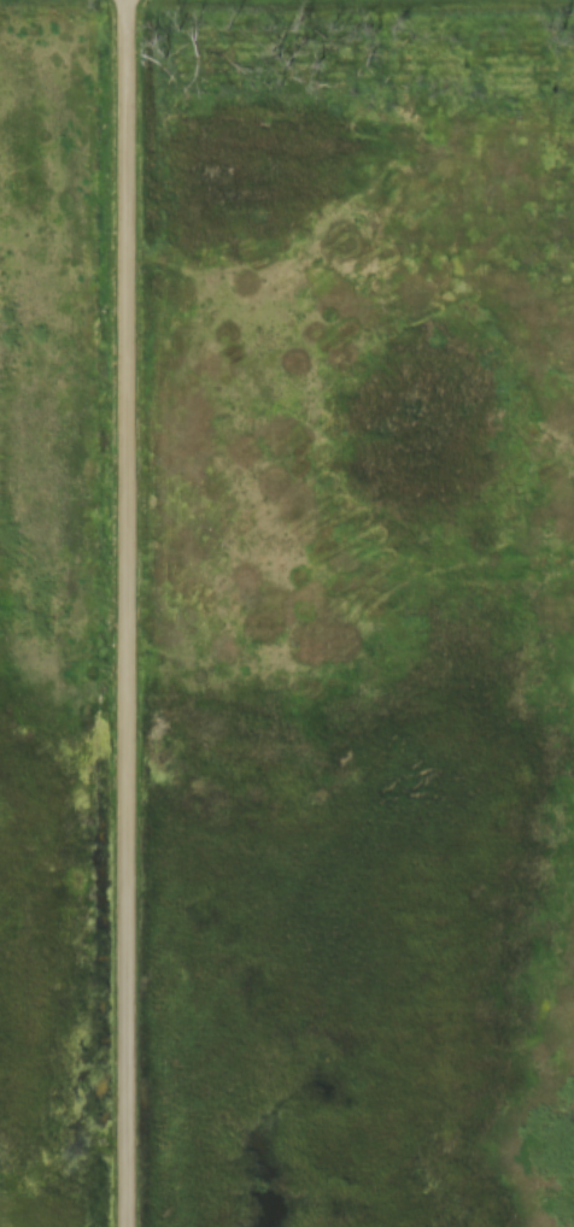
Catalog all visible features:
road: (119, 613)

